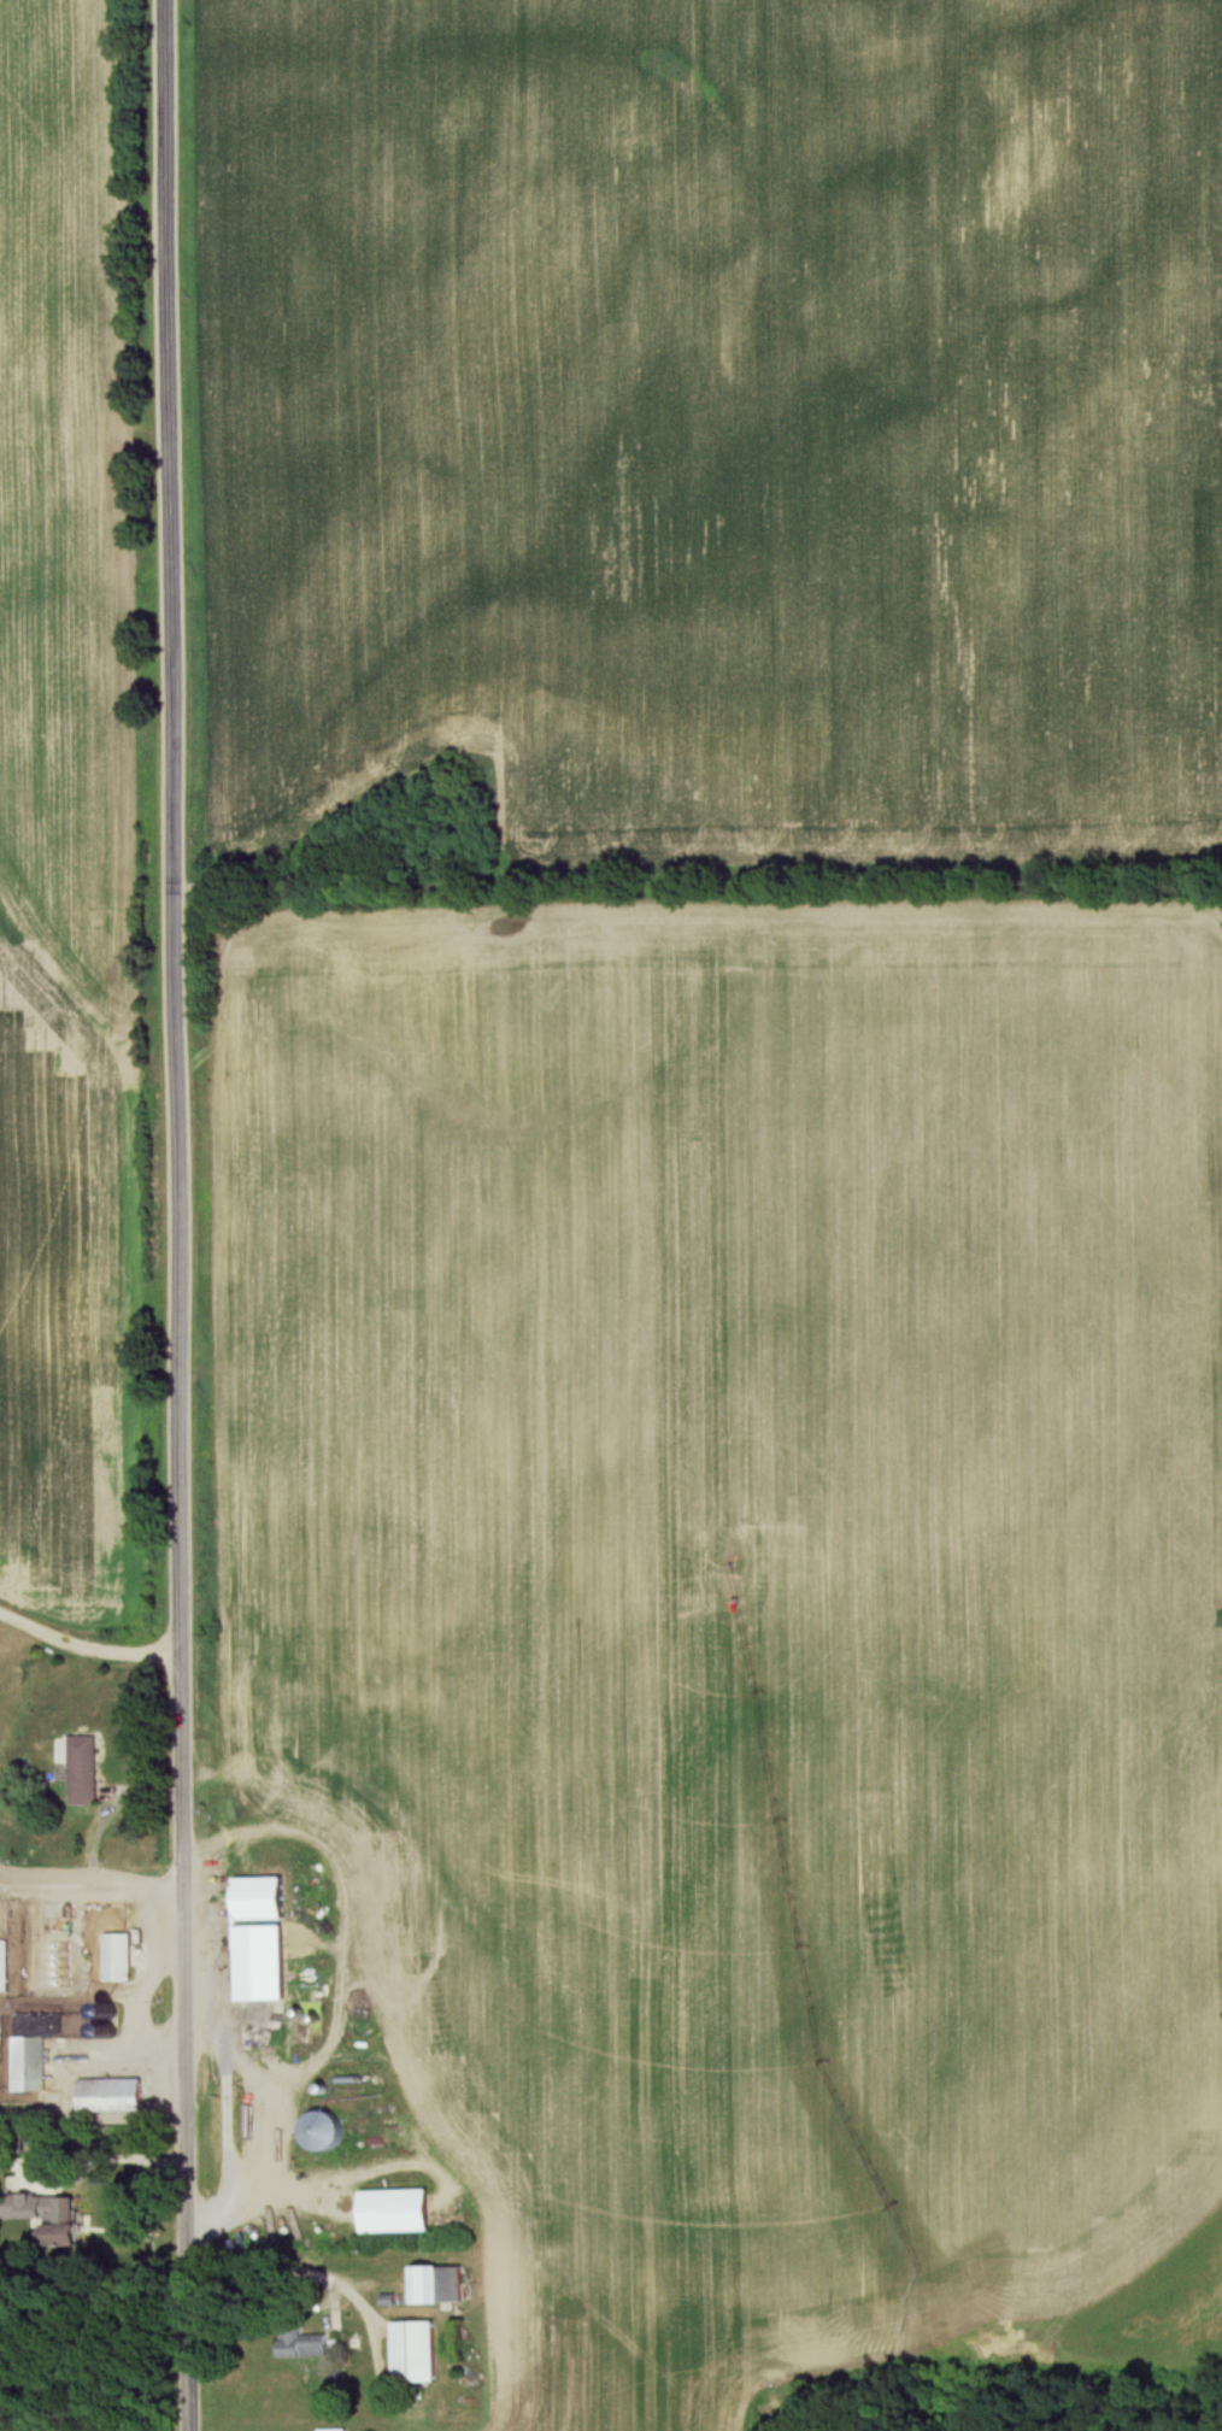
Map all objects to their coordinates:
road: (688, 863)
road: (178, 1215)
road: (89, 1644)
building: (83, 1772)
road: (93, 1891)
building: (263, 1899)
building: (119, 1957)
building: (4, 1966)
building: (264, 1987)
building: (31, 2063)
building: (112, 2095)
road: (228, 2118)
building: (325, 2131)
road: (107, 2163)
building: (400, 2212)
building: (67, 2222)
road: (296, 2272)
building: (439, 2286)
building: (305, 2345)
building: (416, 2354)

